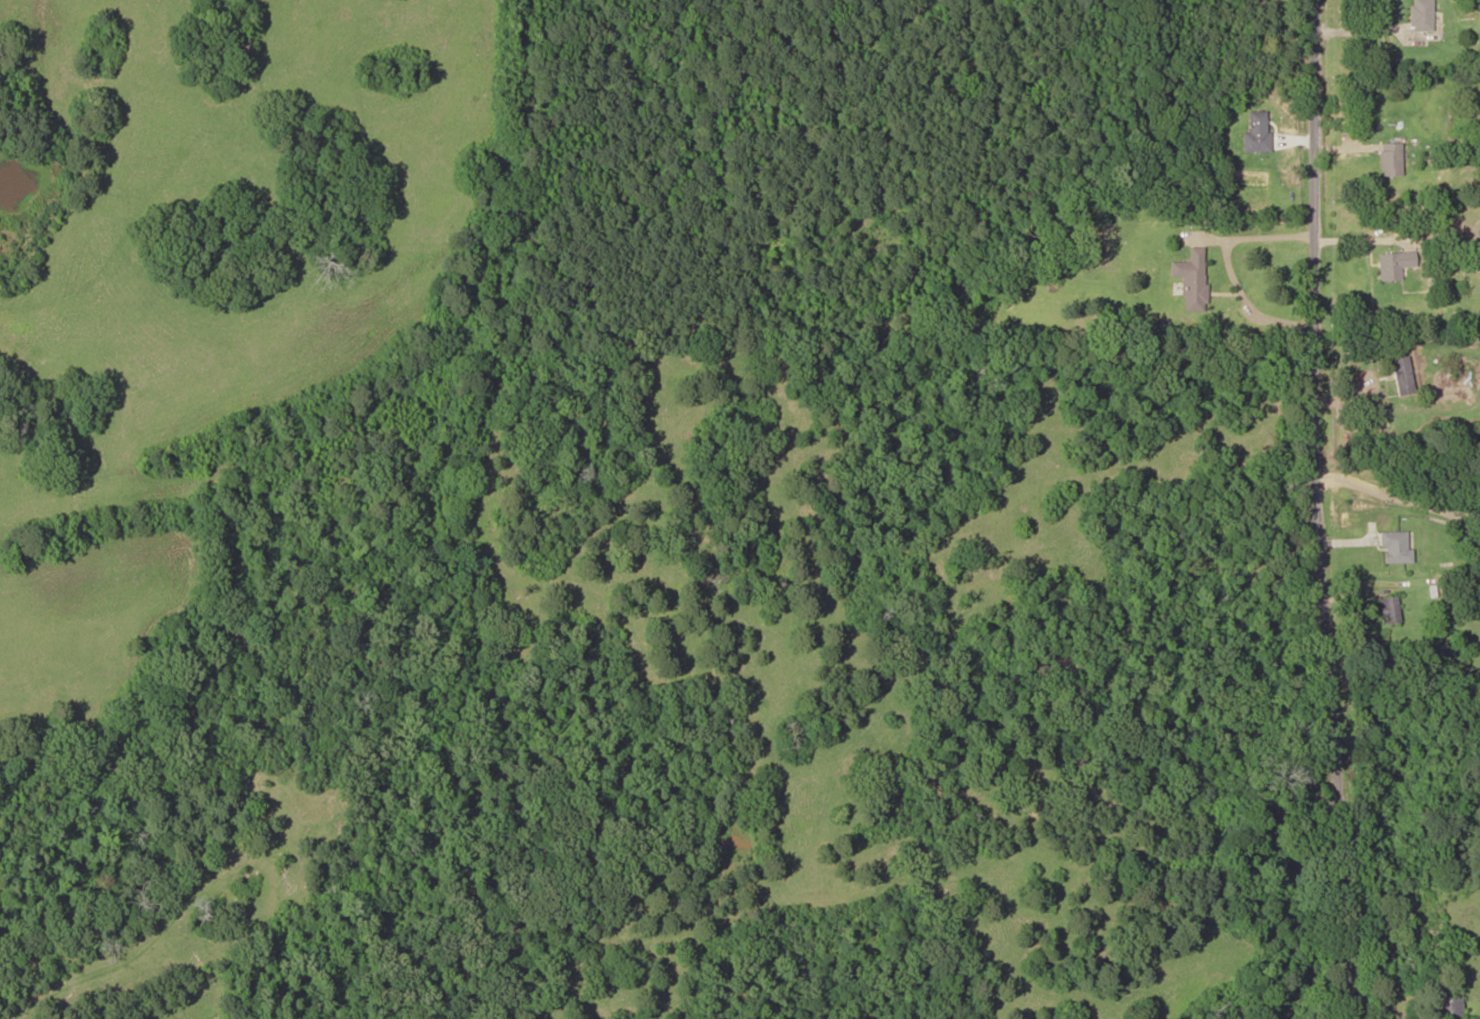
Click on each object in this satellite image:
building: (1421, 14)
building: (1256, 131)
building: (1389, 159)
building: (1393, 264)
building: (1191, 278)
building: (1401, 375)
road: (1323, 510)
building: (1389, 609)
building: (1446, 1004)

